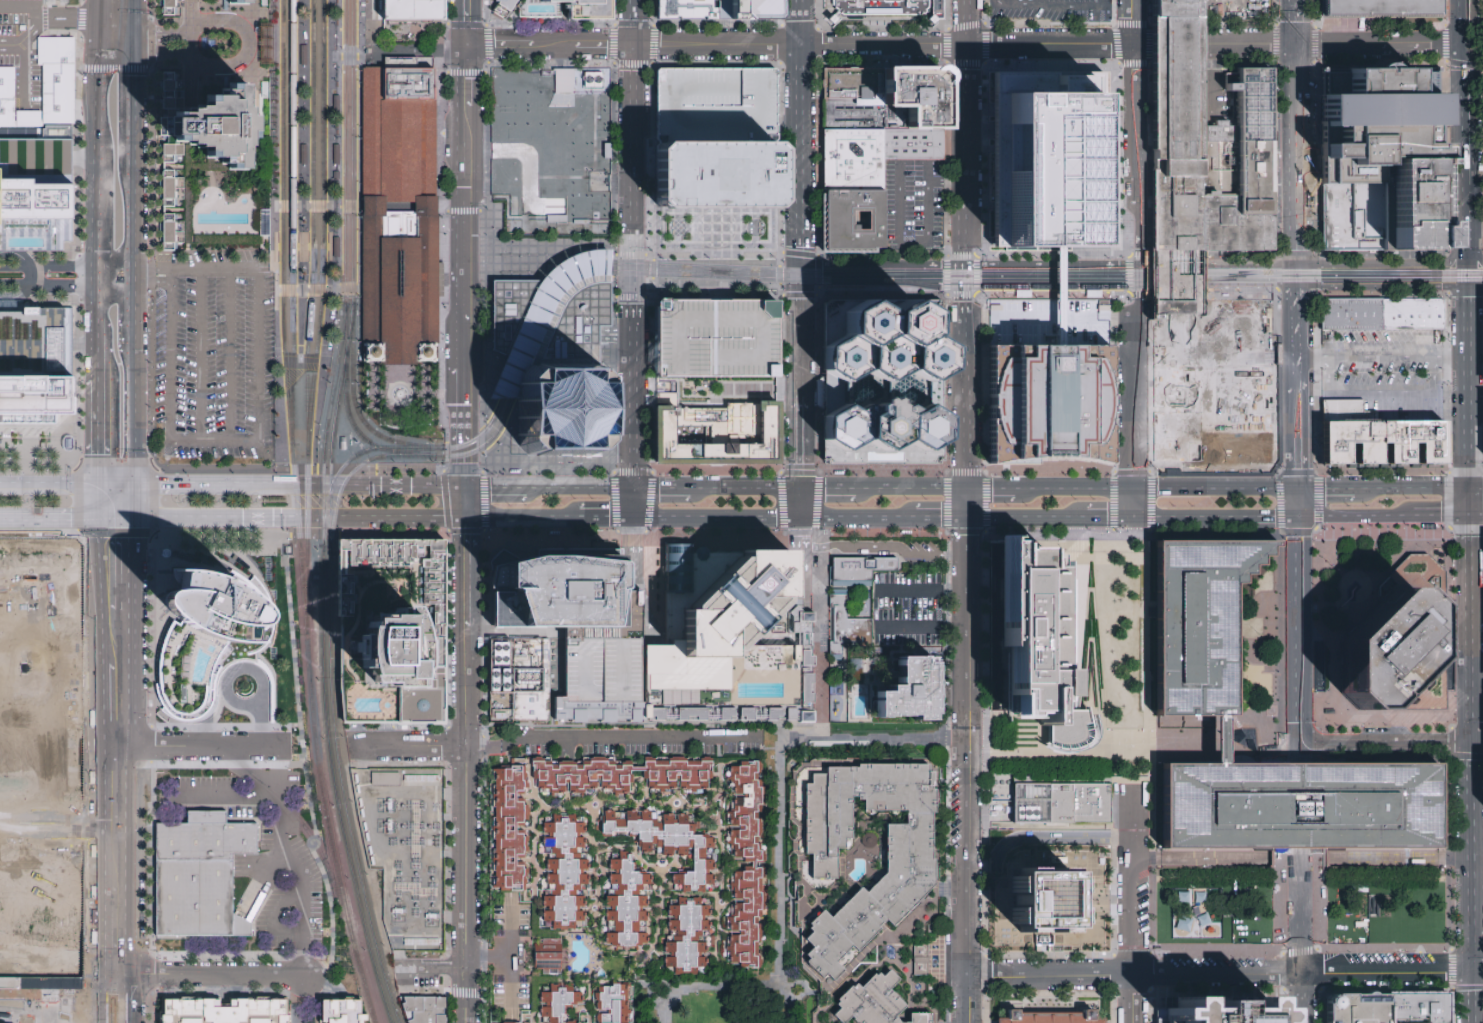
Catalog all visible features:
road: (81, 1)
building: (236, 1)
road: (1004, 4)
road: (1237, 4)
road: (1061, 5)
road: (23, 6)
road: (100, 8)
building: (171, 8)
building: (503, 8)
building: (584, 8)
building: (885, 9)
parking lot: (1243, 9)
building: (1380, 9)
building: (414, 10)
building: (688, 10)
building: (748, 10)
parking lot: (1055, 10)
road: (514, 11)
building: (541, 11)
road: (652, 12)
road: (456, 13)
road: (71, 17)
road: (258, 17)
road: (80, 19)
road: (476, 19)
road: (1482, 19)
road: (130, 22)
road: (803, 22)
road: (969, 22)
road: (1296, 22)
road: (1461, 22)
road: (202, 23)
road: (549, 23)
road: (633, 23)
road: (1473, 23)
road: (485, 26)
road: (29, 30)
road: (99, 30)
road: (456, 32)
traffic signals: (456, 38)
road: (473, 38)
traffic signals: (475, 38)
road: (511, 38)
road: (563, 39)
traffic signals: (98, 44)
road: (114, 44)
traffic signals: (131, 45)
road: (456, 45)
road: (475, 45)
road: (718, 45)
road: (886, 45)
road: (1062, 45)
road: (1181, 45)
road: (1252, 45)
road: (1382, 45)
traffic signals: (1468, 45)
road: (10, 46)
road: (613, 46)
parking lot: (22, 50)
road: (401, 51)
road: (189, 53)
traffic signals: (456, 53)
road: (465, 53)
traffic signals: (475, 53)
road: (535, 53)
road: (387, 55)
building: (302, 56)
road: (651, 65)
road: (255, 73)
road: (464, 73)
road: (21, 75)
road: (475, 77)
railway: (283, 80)
railway: (292, 80)
railway: (313, 80)
building: (407, 84)
building: (855, 84)
building: (43, 90)
road: (456, 97)
building: (921, 98)
road: (130, 99)
road: (98, 103)
parking lot: (719, 106)
road: (486, 112)
building: (851, 115)
road: (151, 127)
building: (217, 129)
road: (1138, 132)
building: (719, 139)
road: (803, 140)
building: (553, 143)
road: (358, 144)
building: (1210, 145)
building: (919, 146)
building: (1379, 146)
railway: (345, 151)
railway: (353, 152)
road: (965, 154)
road: (1297, 154)
road: (1469, 154)
building: (303, 155)
building: (335, 155)
road: (632, 155)
road: (474, 157)
building: (1052, 159)
building: (171, 162)
building: (855, 162)
road: (928, 164)
road: (298, 177)
road: (946, 177)
helipad: (721, 178)
road: (1302, 188)
building: (37, 190)
road: (317, 206)
building: (1414, 207)
road: (398, 209)
parking lot: (914, 209)
road: (441, 210)
road: (774, 210)
road: (464, 211)
road: (97, 212)
road: (130, 212)
building: (855, 224)
road: (459, 227)
railway: (323, 228)
building: (397, 228)
building: (1482, 228)
road: (273, 234)
road: (330, 235)
road: (547, 248)
road: (803, 251)
road: (775, 253)
road: (947, 253)
road: (1052, 253)
road: (590, 254)
railway: (603, 254)
road: (900, 254)
road: (561, 256)
road: (610, 256)
road: (645, 256)
road: (780, 261)
road: (1045, 263)
road: (1136, 263)
road: (1220, 263)
traffic signals: (1298, 263)
road: (1308, 263)
road: (1394, 263)
traffic signals: (1470, 263)
road: (1476, 263)
railway: (644, 264)
road: (882, 264)
traffic signals: (962, 264)
traffic signals: (1143, 264)
road: (1129, 265)
road: (561, 266)
traffic signals: (803, 267)
road: (212, 269)
traffic signals: (130, 270)
road: (150, 270)
road: (803, 270)
road: (113, 271)
road: (962, 271)
railway: (1116, 271)
railway: (1377, 272)
road: (48, 273)
traffic signals: (97, 273)
railway: (720, 273)
railway: (822, 274)
railway: (681, 275)
road: (1298, 275)
road: (780, 276)
railway: (1239, 276)
railway: (1024, 278)
railway: (820, 279)
railway: (1186, 279)
railway: (1345, 279)
road: (609, 280)
road: (149, 281)
road: (803, 281)
road: (962, 283)
road: (78, 284)
railway: (1024, 285)
road: (1476, 285)
road: (1394, 286)
traffic signals: (1470, 286)
traffic signals: (1298, 287)
road: (1308, 287)
road: (1220, 288)
traffic signals: (1142, 289)
road: (318, 290)
railway: (985, 293)
road: (1053, 293)
road: (1057, 294)
railway: (359, 295)
road: (819, 295)
railway: (339, 296)
road: (631, 297)
railway: (284, 302)
railway: (292, 302)
road: (130, 305)
railway: (310, 308)
road: (529, 309)
building: (1354, 315)
railway: (537, 316)
building: (1415, 316)
road: (1062, 317)
railway: (543, 322)
parking lot: (1052, 322)
road: (96, 323)
helipad: (903, 323)
road: (962, 327)
road: (549, 328)
road: (614, 330)
road: (615, 339)
building: (717, 339)
parking garage: (717, 339)
road: (459, 341)
road: (803, 341)
road: (473, 349)
building: (554, 353)
road: (200, 354)
road: (229, 354)
railway: (299, 354)
parking lot: (215, 356)
road: (1385, 356)
road: (300, 358)
road: (614, 359)
road: (299, 363)
building: (36, 364)
road: (612, 365)
helipad: (1050, 365)
road: (130, 370)
road: (780, 371)
road: (397, 373)
road: (1471, 374)
road: (1136, 375)
parking lot: (1384, 376)
road: (632, 377)
road: (440, 378)
building: (884, 379)
road: (387, 386)
road: (459, 386)
road: (1299, 386)
building: (757, 390)
road: (1381, 393)
fountain: (398, 394)
road: (426, 394)
building: (1048, 401)
railway: (354, 402)
railway: (499, 408)
railway: (347, 409)
railway: (518, 409)
road: (486, 410)
railway: (505, 414)
railway: (328, 425)
road: (431, 425)
road: (966, 427)
railway: (333, 428)
helipad: (883, 428)
road: (504, 432)
building: (717, 433)
road: (95, 435)
road: (214, 439)
road: (803, 441)
railway: (470, 442)
road: (130, 443)
building: (1384, 444)
road: (72, 447)
road: (459, 447)
railway: (471, 452)
railway: (279, 463)
railway: (346, 463)
railway: (314, 464)
traffic signals: (1300, 464)
road: (74, 471)
road: (1131, 471)
railway: (351, 472)
road: (443, 472)
road: (1214, 472)
road: (548, 473)
road: (947, 473)
road: (47, 486)
road: (113, 486)
traffic signals: (131, 486)
road: (143, 486)
road: (194, 486)
road: (1216, 486)
traffic signals: (1323, 486)
road: (1326, 486)
road: (1412, 486)
road: (1477, 486)
traffic signals: (95, 487)
road: (1077, 487)
road: (339, 488)
road: (993, 488)
road: (452, 489)
traffic signals: (459, 489)
road: (466, 489)
traffic signals: (474, 489)
road: (490, 489)
road: (514, 489)
road: (576, 489)
road: (746, 489)
road: (829, 489)
road: (911, 489)
road: (660, 490)
traffic signals: (632, 491)
road: (1473, 501)
road: (95, 502)
road: (130, 502)
road: (1133, 502)
road: (1300, 502)
road: (463, 503)
road: (471, 503)
road: (803, 503)
road: (632, 504)
road: (967, 504)
road: (1355, 517)
road: (1442, 517)
traffic signals: (1442, 517)
road: (1478, 517)
road: (47, 518)
traffic signals: (95, 518)
road: (112, 518)
traffic signals: (130, 518)
road: (281, 518)
road: (450, 518)
traffic signals: (468, 518)
road: (476, 518)
road: (532, 518)
road: (606, 518)
traffic signals: (632, 518)
road: (717, 518)
road: (859, 518)
road: (940, 518)
road: (1025, 518)
road: (1108, 518)
road: (1216, 518)
traffic signals: (1278, 518)
road: (616, 526)
road: (784, 528)
road: (229, 529)
road: (448, 529)
road: (550, 531)
road: (715, 532)
road: (885, 532)
road: (1319, 532)
road: (1132, 534)
traffic signals: (1473, 538)
railway: (300, 540)
railway: (306, 546)
road: (870, 548)
road: (632, 554)
road: (130, 564)
building: (1422, 567)
building: (860, 571)
road: (467, 574)
building: (501, 578)
helipad: (755, 587)
road: (96, 590)
building: (564, 590)
road: (920, 591)
parking lot: (913, 601)
building: (505, 612)
building: (208, 615)
railway: (330, 615)
building: (1202, 621)
road: (1335, 621)
road: (920, 627)
building: (847, 628)
building: (392, 630)
road: (514, 631)
road: (613, 631)
road: (484, 632)
building: (1036, 636)
road: (1302, 640)
building: (730, 642)
building: (1384, 649)
building: (1412, 664)
building: (605, 667)
parking lot: (605, 667)
road: (1133, 676)
building: (517, 677)
road: (127, 678)
road: (226, 678)
building: (908, 691)
building: (838, 700)
road: (97, 704)
road: (1479, 712)
road: (260, 721)
road: (521, 729)
road: (622, 738)
road: (896, 738)
road: (1218, 738)
road: (772, 739)
road: (1221, 739)
road: (1374, 739)
road: (1479, 739)
road: (788, 740)
road: (1460, 740)
road: (152, 744)
road: (1475, 744)
road: (194, 745)
road: (417, 746)
road: (447, 747)
road: (484, 747)
road: (967, 747)
road: (565, 749)
road: (1050, 759)
building: (385, 776)
road: (305, 777)
railway: (321, 781)
road: (124, 784)
railway: (336, 788)
building: (1001, 795)
road: (249, 797)
building: (1064, 804)
building: (1302, 806)
road: (1303, 806)
road: (446, 811)
road: (99, 815)
road: (465, 827)
road: (1055, 838)
power substation: (405, 851)
railway: (354, 852)
building: (639, 853)
road: (1401, 858)
road: (1203, 859)
building: (910, 861)
building: (198, 872)
road: (148, 873)
road: (259, 881)
park: (780, 883)
road: (1478, 883)
road: (295, 886)
road: (484, 891)
building: (1191, 894)
building: (1048, 897)
road: (126, 900)
road: (1092, 902)
road: (1134, 904)
park: (1384, 907)
park: (1214, 908)
road: (1304, 911)
road: (509, 912)
road: (100, 931)
road: (509, 943)
road: (871, 947)
building: (544, 954)
road: (487, 957)
building: (916, 960)
road: (447, 964)
parking lot: (1376, 964)
road: (432, 967)
road: (1388, 972)
railway: (361, 974)
road: (1219, 974)
road: (1050, 975)
traffic signals: (101, 977)
road: (115, 977)
traffic signals: (129, 977)
road: (216, 977)
road: (51, 983)
road: (448, 983)
road: (508, 985)
road: (706, 986)
road: (215, 991)
road: (466, 991)
road: (137, 995)
road: (1472, 997)
road: (1304, 998)
road: (304, 999)
road: (966, 999)
road: (1134, 999)
road: (101, 1000)
road: (129, 1000)
road: (789, 1001)
building: (579, 1003)
building: (874, 1003)
road: (449, 1006)
building: (1363, 1006)
building: (1421, 1006)
building: (425, 1008)
building: (226, 1009)
building: (343, 1010)
building: (1216, 1011)
building: (1055, 1017)

